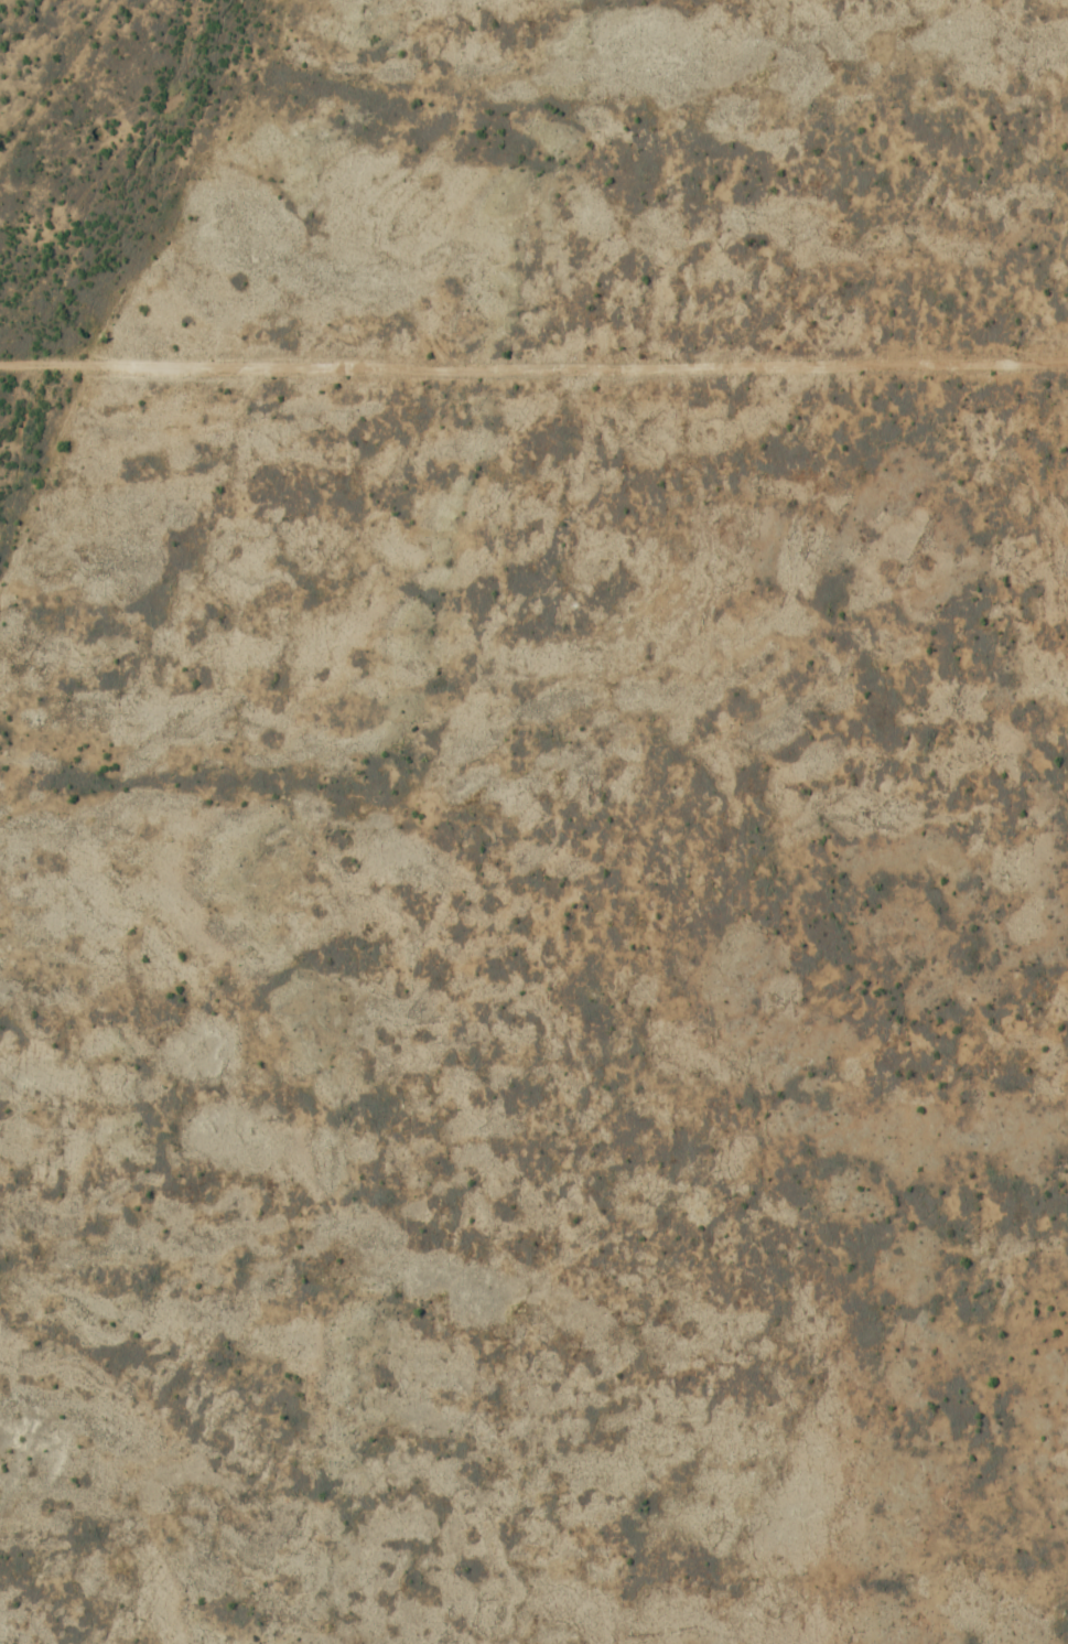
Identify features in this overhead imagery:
road: (533, 366)

